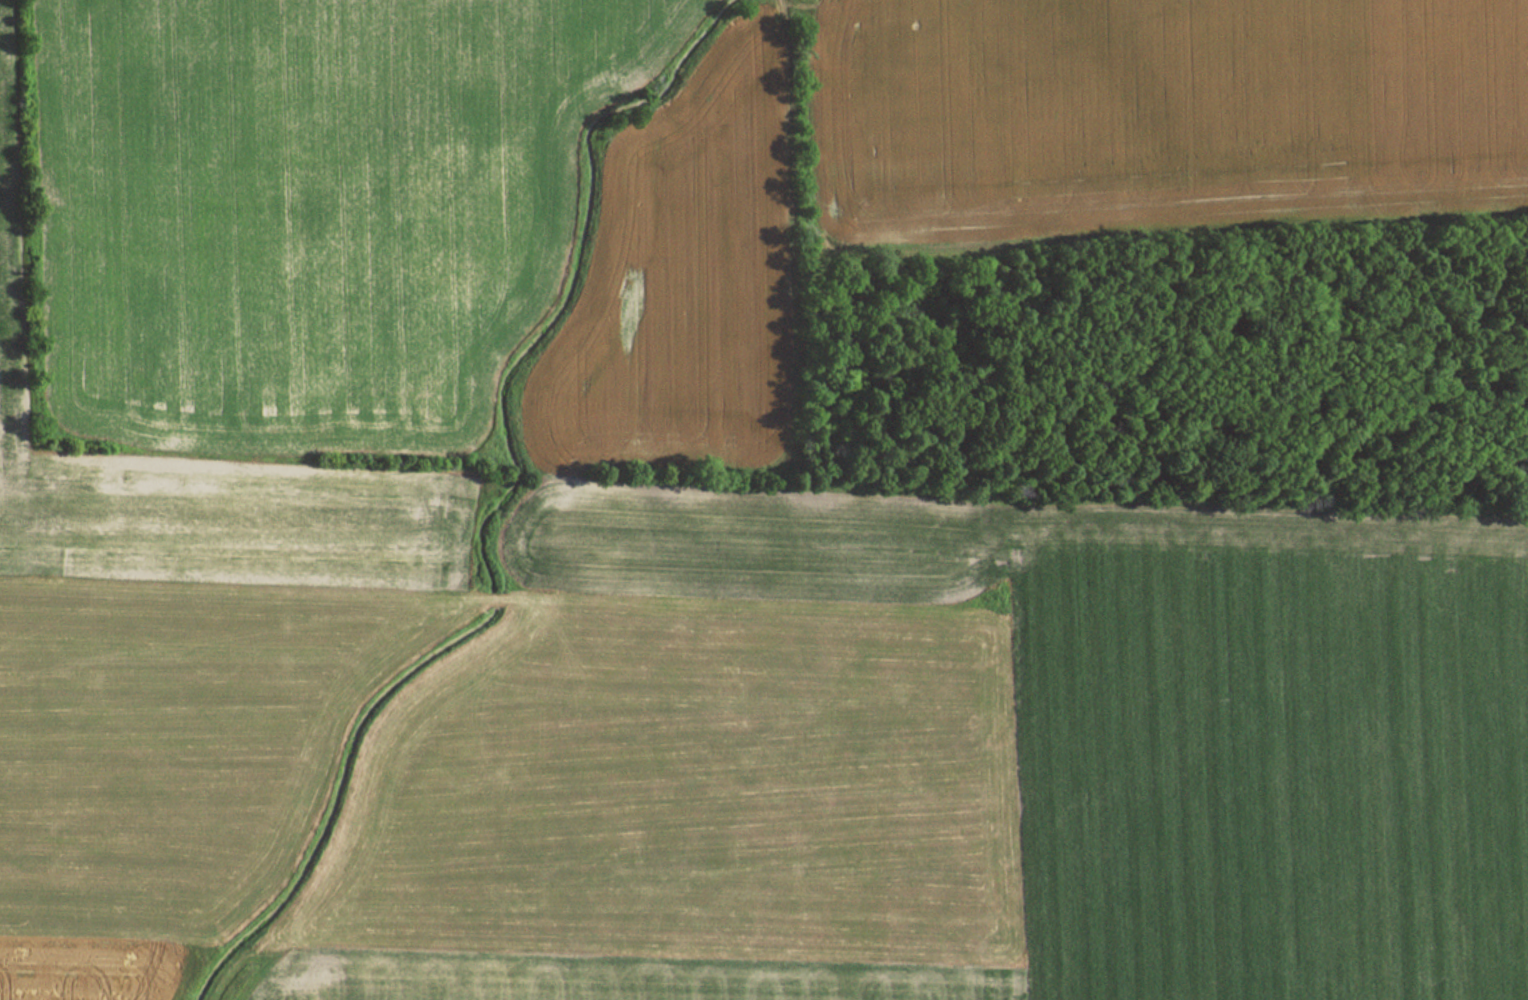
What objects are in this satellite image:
crop: (1157, 107)
crop: (312, 200)
crop: (685, 289)
crop: (172, 667)
crop: (959, 762)

